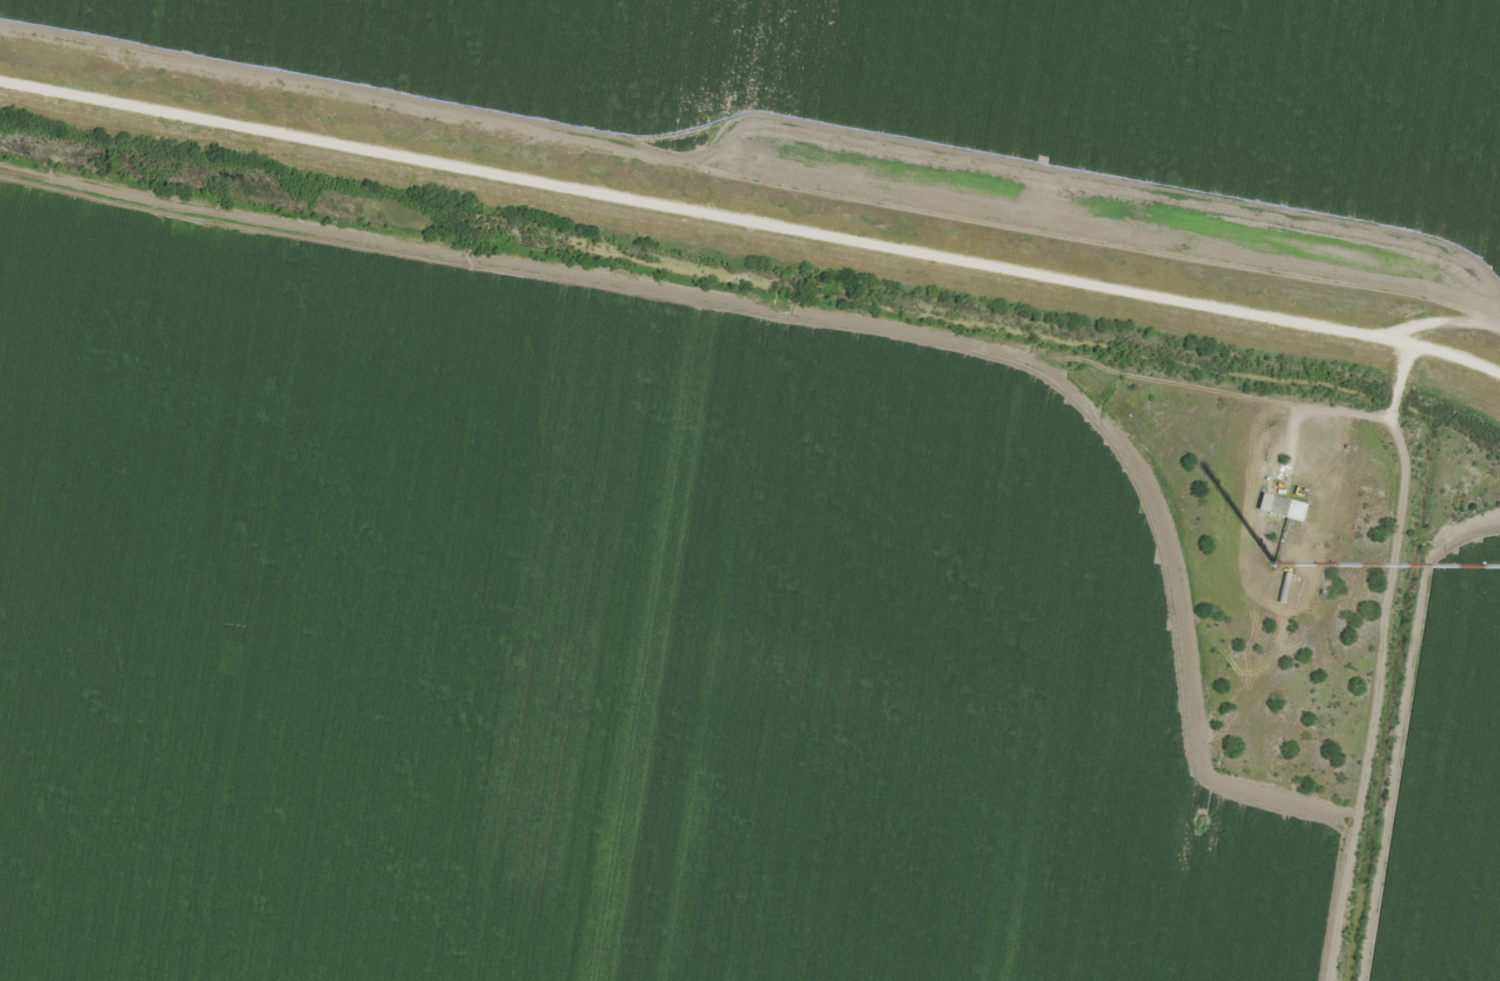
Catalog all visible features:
road: (749, 214)
building: (1283, 509)

